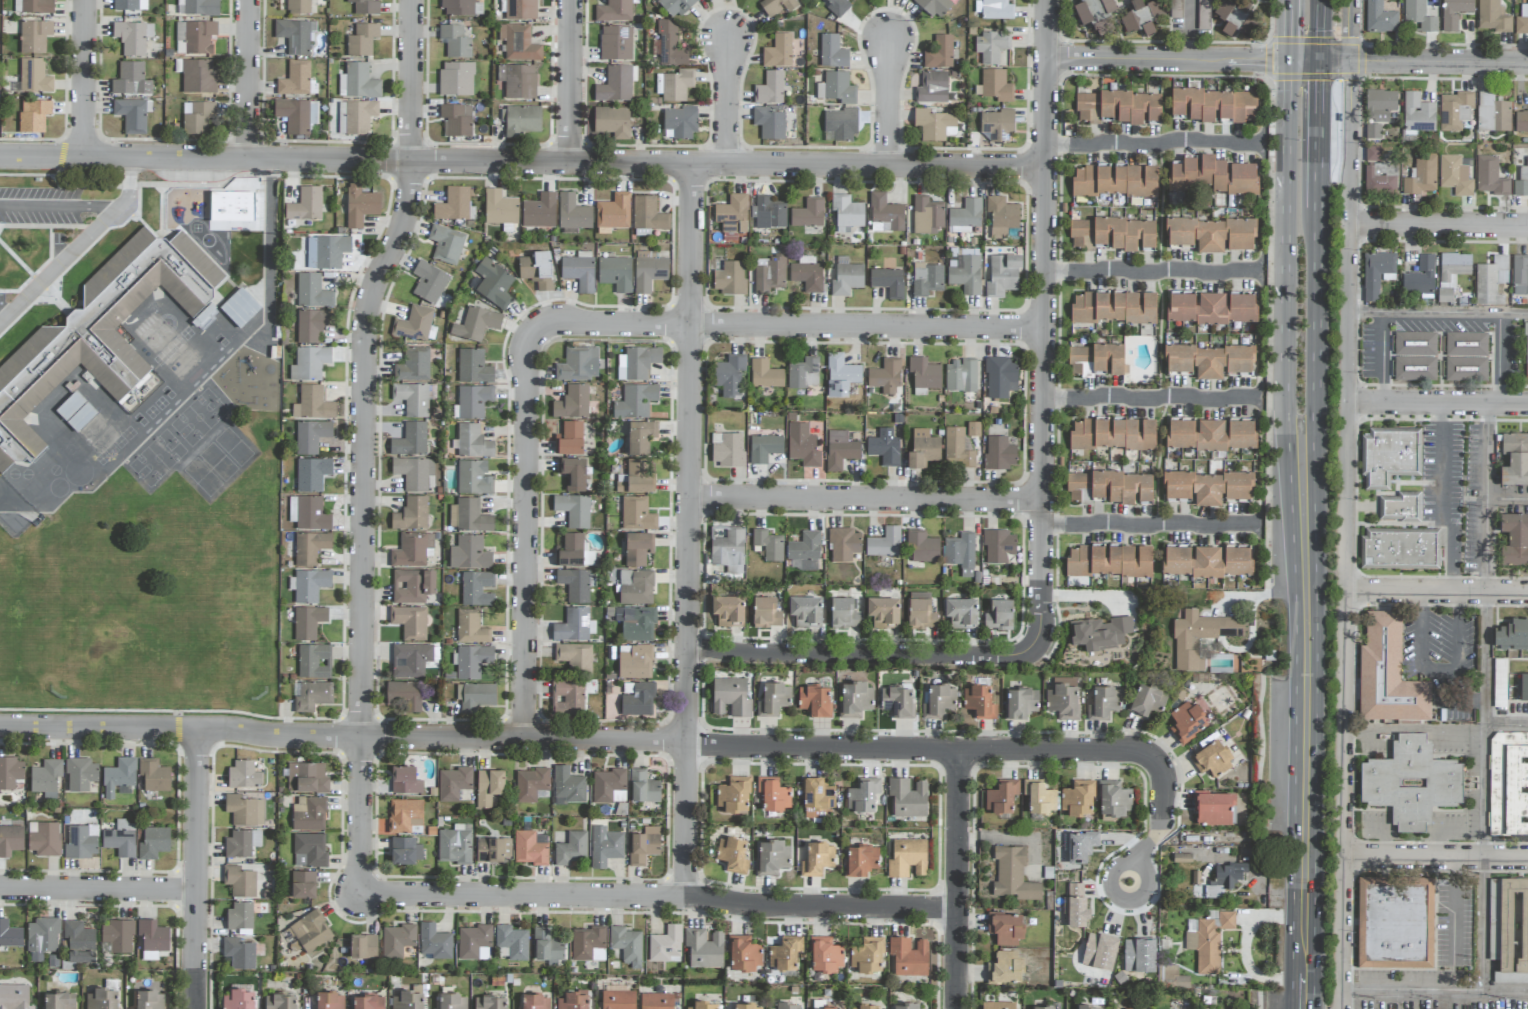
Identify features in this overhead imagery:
building: (37, 6)
building: (365, 6)
building: (777, 6)
building: (676, 7)
building: (838, 7)
building: (934, 7)
building: (461, 8)
building: (994, 9)
building: (1175, 9)
building: (520, 10)
building: (1094, 10)
building: (615, 11)
building: (1454, 13)
building: (1204, 14)
building: (1147, 15)
building: (1380, 16)
building: (1419, 16)
building: (1493, 17)
building: (1234, 19)
building: (1522, 20)
building: (1129, 23)
road: (1191, 30)
road: (1283, 31)
road: (1323, 31)
building: (295, 35)
building: (34, 36)
building: (132, 37)
building: (194, 37)
building: (362, 40)
building: (455, 41)
building: (519, 43)
building: (616, 43)
building: (670, 46)
building: (991, 46)
building: (778, 51)
building: (832, 52)
building: (939, 53)
road: (1166, 60)
traffic signals: (1283, 62)
traffic signals: (1323, 62)
road: (1405, 62)
building: (197, 75)
building: (34, 76)
road: (85, 79)
road: (249, 79)
building: (456, 79)
building: (131, 80)
building: (297, 80)
building: (518, 81)
road: (571, 81)
building: (358, 82)
building: (616, 84)
road: (1049, 84)
building: (674, 85)
building: (996, 86)
building: (836, 88)
building: (932, 88)
building: (770, 89)
road: (728, 101)
road: (889, 104)
building: (1214, 105)
building: (1380, 105)
building: (1117, 107)
building: (1455, 110)
building: (1492, 113)
building: (1417, 114)
building: (33, 115)
building: (133, 115)
building: (296, 115)
building: (358, 116)
building: (196, 117)
building: (456, 120)
building: (522, 120)
building: (1521, 121)
building: (612, 122)
building: (680, 123)
building: (769, 123)
building: (839, 124)
building: (997, 124)
building: (935, 125)
building: (1373, 131)
road: (1322, 136)
road: (1153, 140)
building: (1372, 153)
road: (522, 161)
building: (1213, 176)
building: (1421, 176)
building: (1455, 176)
building: (1490, 177)
building: (1380, 179)
building: (1115, 180)
building: (1522, 182)
road: (128, 183)
road: (40, 203)
road: (99, 204)
building: (305, 205)
building: (453, 205)
building: (360, 206)
building: (499, 208)
building: (539, 211)
building: (614, 212)
building: (847, 212)
building: (769, 213)
building: (573, 214)
building: (648, 214)
building: (808, 214)
building: (885, 214)
building: (731, 215)
building: (927, 215)
building: (965, 216)
building: (1001, 216)
road: (1439, 225)
building: (1112, 234)
building: (1211, 234)
road: (267, 242)
building: (446, 244)
building: (326, 252)
road: (59, 261)
road: (1150, 268)
building: (536, 270)
building: (579, 271)
building: (615, 273)
building: (648, 273)
building: (1376, 273)
building: (1451, 273)
building: (770, 274)
building: (807, 274)
building: (966, 275)
building: (1002, 275)
building: (1520, 275)
building: (846, 277)
building: (1420, 277)
building: (730, 279)
building: (927, 279)
building: (888, 281)
building: (1490, 281)
building: (429, 282)
building: (493, 284)
building: (312, 292)
building: (1113, 307)
building: (1242, 307)
building: (239, 308)
building: (1196, 308)
road: (1319, 312)
road: (1439, 314)
building: (312, 324)
building: (476, 324)
building: (416, 325)
road: (791, 325)
building: (100, 334)
building: (1415, 344)
building: (1466, 344)
building: (1526, 349)
building: (1095, 360)
building: (1209, 361)
building: (309, 363)
building: (637, 363)
building: (578, 364)
building: (413, 365)
building: (473, 367)
building: (1415, 369)
building: (1466, 369)
building: (803, 373)
building: (765, 374)
building: (729, 375)
building: (924, 375)
building: (961, 375)
building: (840, 376)
building: (885, 377)
building: (1000, 377)
road: (1149, 394)
building: (413, 398)
building: (473, 401)
building: (635, 401)
building: (572, 402)
building: (313, 403)
road: (1439, 405)
road: (1042, 416)
building: (1113, 434)
building: (1210, 434)
building: (310, 436)
building: (639, 437)
building: (570, 439)
building: (410, 440)
road: (364, 442)
building: (473, 442)
building: (884, 447)
building: (764, 448)
building: (957, 448)
building: (728, 450)
building: (804, 450)
building: (840, 450)
building: (923, 450)
building: (999, 453)
building: (1389, 456)
building: (1515, 459)
building: (414, 473)
building: (572, 473)
building: (312, 474)
building: (635, 477)
building: (473, 478)
building: (1111, 487)
building: (1207, 487)
road: (1349, 494)
building: (1085, 497)
road: (864, 499)
road: (1442, 499)
road: (1509, 502)
road: (1317, 506)
building: (1400, 507)
building: (573, 510)
building: (308, 513)
building: (411, 514)
building: (637, 514)
building: (468, 516)
road: (1148, 522)
road: (522, 529)
road: (687, 529)
road: (1290, 535)
building: (1515, 539)
building: (884, 543)
building: (769, 544)
building: (844, 544)
building: (998, 546)
building: (310, 547)
building: (727, 547)
building: (922, 547)
building: (637, 549)
building: (1400, 549)
building: (412, 550)
building: (573, 551)
building: (805, 551)
building: (469, 553)
building: (960, 553)
building: (1176, 559)
building: (1109, 561)
building: (576, 584)
building: (310, 585)
building: (412, 586)
building: (635, 587)
building: (476, 589)
road: (1438, 593)
building: (806, 610)
building: (728, 611)
building: (920, 611)
building: (961, 611)
building: (765, 613)
building: (883, 613)
building: (843, 614)
building: (999, 615)
building: (308, 622)
building: (410, 622)
building: (638, 624)
building: (574, 626)
building: (471, 627)
building: (1100, 632)
building: (1512, 635)
building: (1200, 637)
road: (853, 654)
building: (575, 656)
building: (410, 660)
building: (314, 661)
building: (472, 661)
building: (635, 661)
road: (1438, 669)
building: (1388, 674)
building: (1500, 683)
building: (1523, 687)
building: (312, 695)
building: (404, 695)
building: (475, 696)
building: (568, 697)
building: (730, 697)
building: (637, 698)
road: (1488, 698)
building: (773, 699)
building: (855, 699)
building: (814, 701)
building: (939, 701)
building: (1062, 701)
building: (1147, 701)
building: (897, 702)
building: (979, 702)
building: (1020, 703)
building: (1104, 703)
building: (1187, 722)
road: (1417, 727)
road: (1508, 729)
road: (552, 738)
building: (1211, 759)
building: (10, 772)
building: (81, 774)
building: (244, 775)
building: (154, 776)
building: (307, 777)
building: (46, 778)
building: (119, 778)
building: (405, 781)
building: (453, 783)
building: (1411, 783)
building: (531, 784)
building: (1508, 784)
building: (489, 786)
building: (568, 786)
building: (609, 786)
building: (643, 787)
building: (772, 794)
building: (733, 795)
building: (863, 795)
building: (1002, 796)
road: (1164, 796)
building: (1039, 797)
building: (816, 798)
building: (908, 798)
building: (1114, 798)
building: (1077, 799)
road: (1314, 803)
building: (1214, 808)
building: (244, 810)
building: (309, 813)
building: (405, 815)
building: (43, 838)
building: (120, 839)
building: (10, 840)
building: (81, 842)
building: (153, 842)
building: (241, 843)
building: (455, 844)
building: (644, 845)
building: (605, 846)
building: (1081, 846)
building: (492, 849)
building: (529, 849)
building: (571, 849)
building: (309, 851)
building: (406, 851)
building: (732, 855)
building: (772, 857)
building: (907, 858)
building: (817, 859)
road: (1436, 859)
building: (860, 860)
road: (198, 868)
building: (1013, 875)
road: (955, 878)
building: (1225, 878)
building: (239, 881)
building: (303, 884)
building: (1077, 887)
road: (98, 890)
road: (658, 895)
building: (1494, 908)
road: (1452, 910)
building: (1077, 912)
building: (241, 915)
building: (1395, 922)
building: (1513, 925)
building: (1005, 928)
building: (308, 933)
building: (10, 935)
building: (117, 935)
building: (42, 938)
building: (152, 938)
building: (397, 940)
building: (473, 941)
building: (1208, 941)
building: (79, 942)
building: (434, 942)
building: (512, 942)
building: (626, 943)
building: (588, 944)
building: (547, 945)
building: (665, 945)
building: (363, 946)
building: (704, 948)
building: (1099, 952)
building: (239, 953)
building: (743, 953)
building: (785, 953)
building: (825, 955)
building: (1139, 955)
building: (909, 956)
building: (867, 957)
building: (1005, 968)
building: (1503, 977)
building: (1171, 978)
road: (1434, 989)
building: (14, 997)
building: (103, 998)
building: (238, 999)
road: (1341, 999)
building: (59, 1000)
building: (149, 1000)
building: (408, 1000)
building: (618, 1000)
building: (329, 1001)
building: (452, 1001)
building: (572, 1001)
building: (656, 1001)
building: (280, 1002)
building: (367, 1002)
building: (535, 1002)
building: (490, 1003)
building: (703, 1005)
building: (998, 1005)
building: (745, 1006)
building: (784, 1006)
building: (905, 1006)
building: (865, 1007)
building: (1085, 1007)
building: (827, 1008)
building: (1046, 1008)

